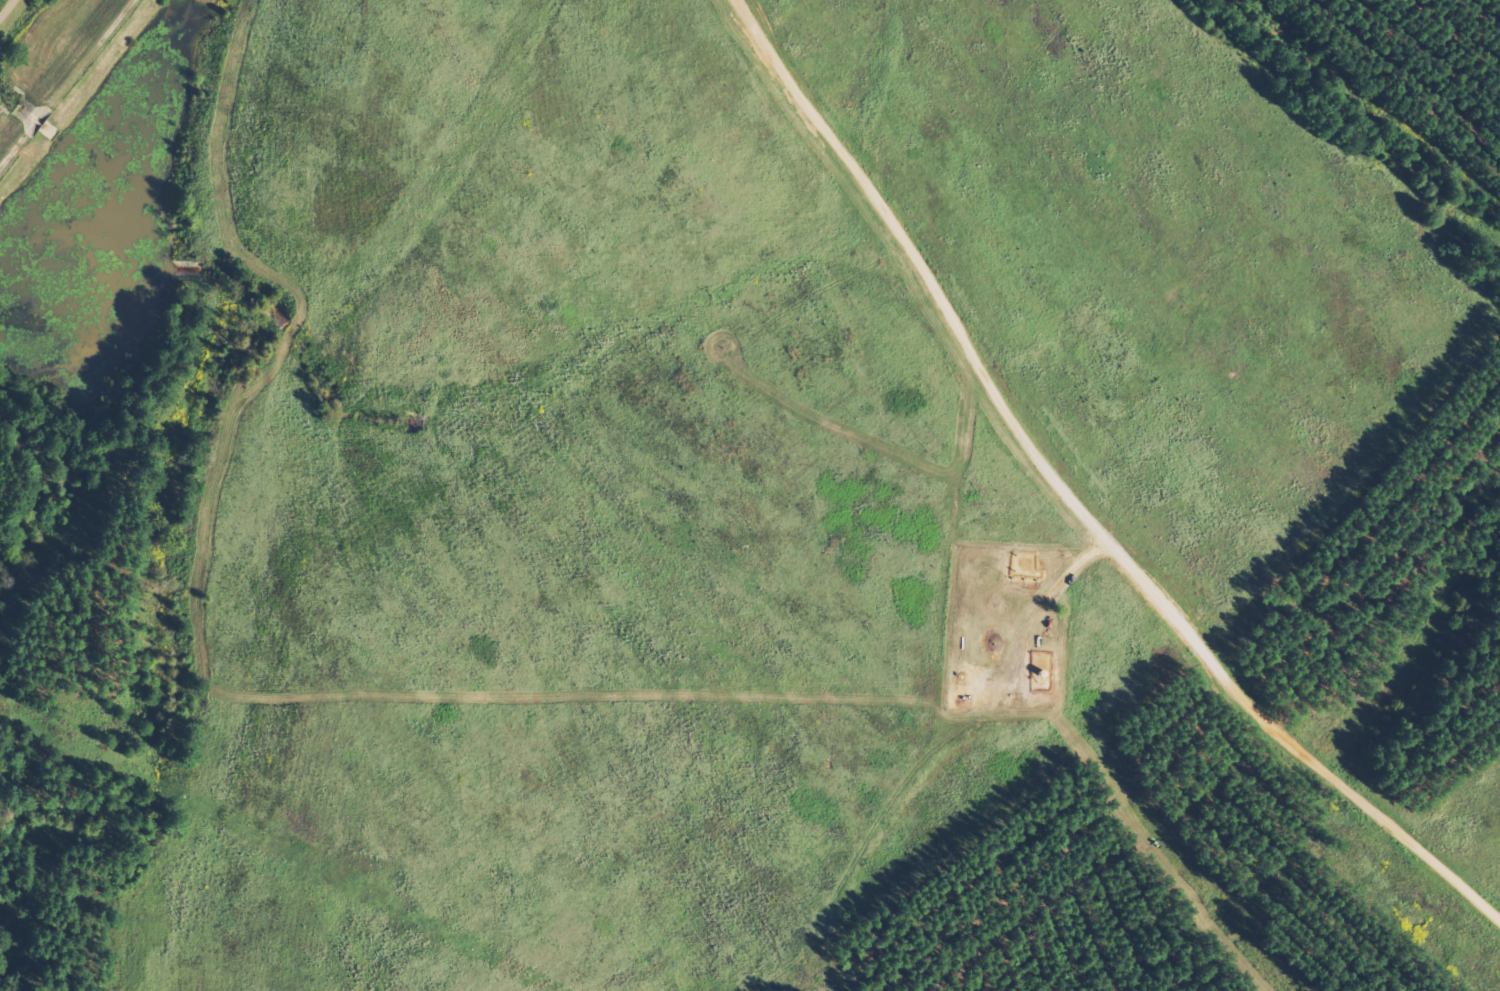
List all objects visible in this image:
road: (1032, 445)
road: (1450, 877)

